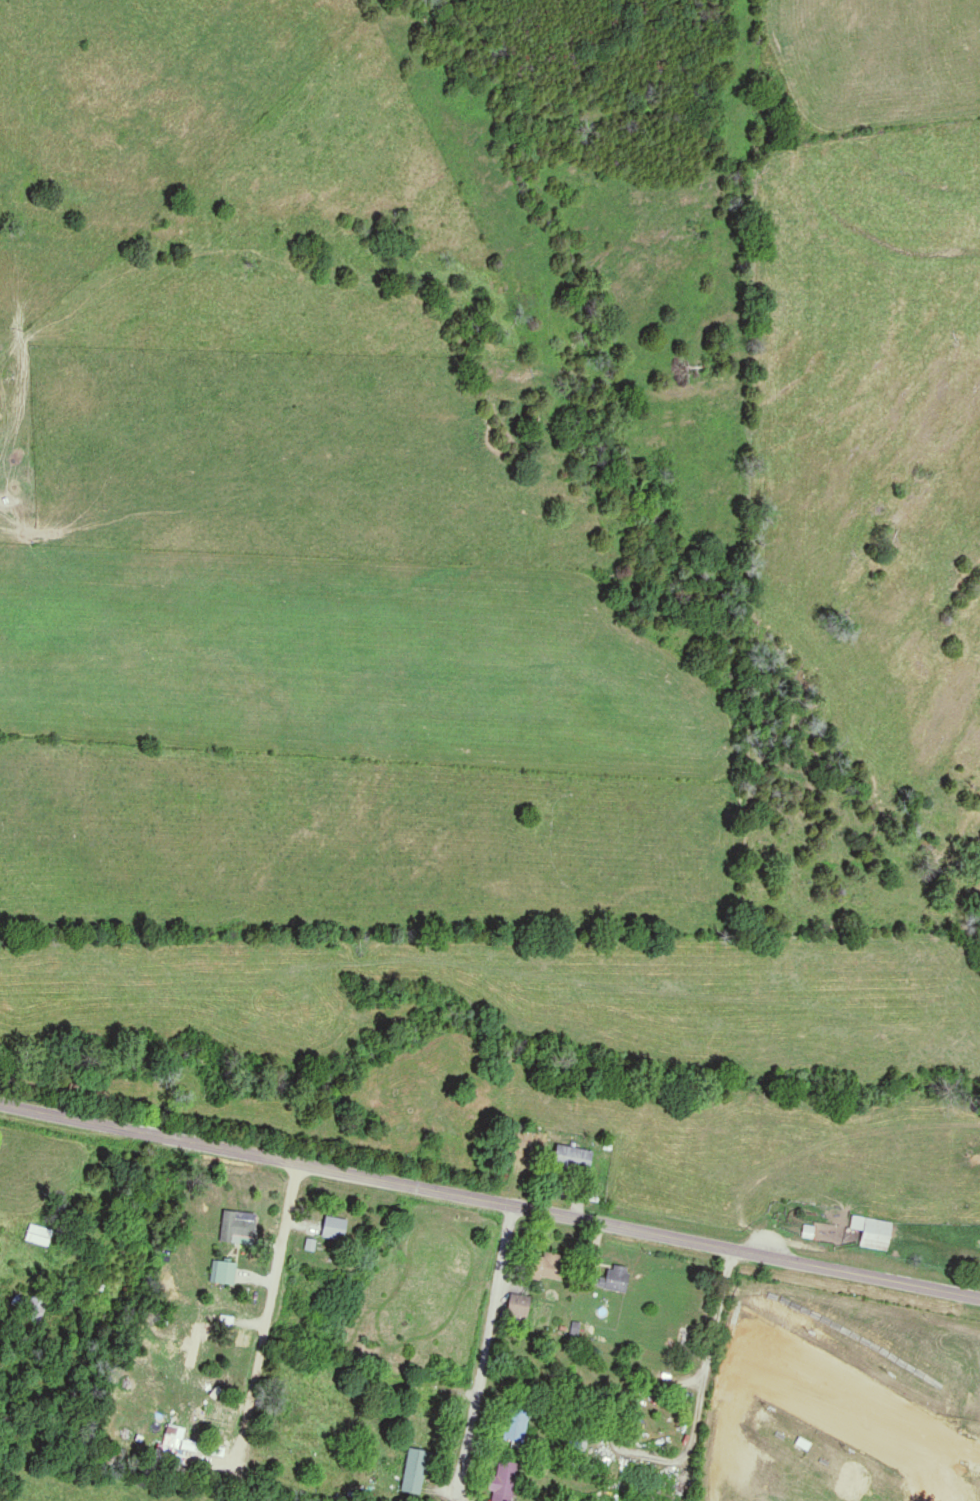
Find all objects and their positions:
building: (569, 1157)
road: (489, 1201)
building: (236, 1226)
building: (333, 1227)
building: (871, 1231)
building: (37, 1234)
building: (547, 1266)
building: (224, 1271)
building: (613, 1278)
building: (519, 1304)
building: (35, 1309)
road: (267, 1316)
building: (195, 1342)
road: (482, 1351)
building: (429, 1397)
building: (516, 1424)
building: (172, 1432)
building: (579, 1441)
road: (684, 1454)
building: (414, 1471)
building: (502, 1482)

